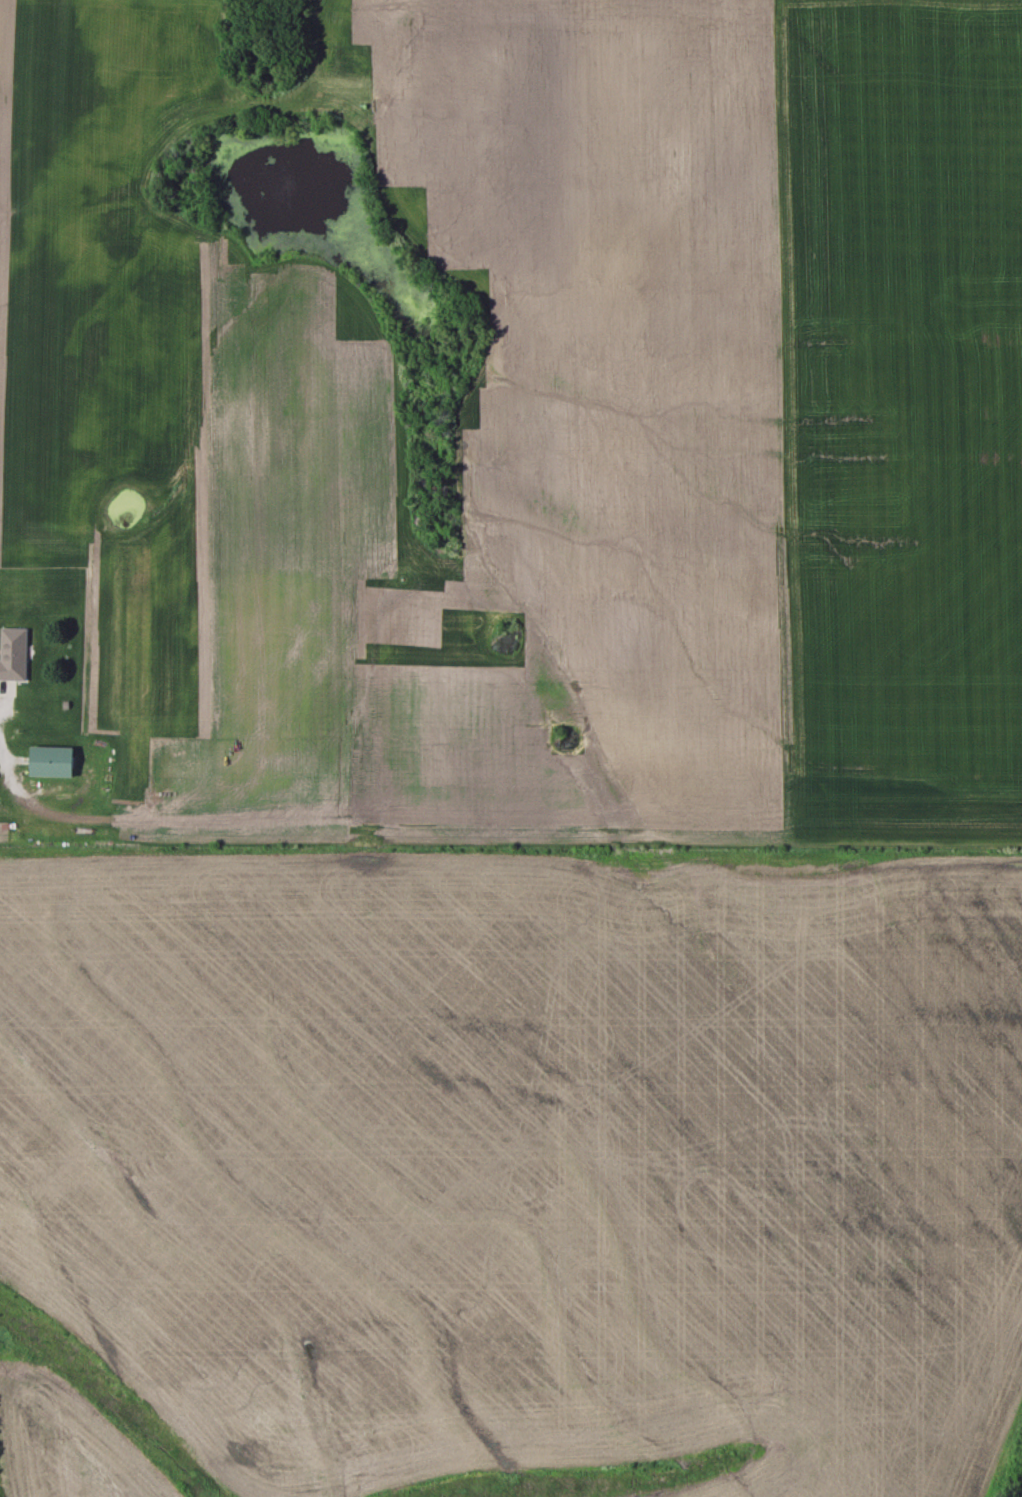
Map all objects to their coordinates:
building: (13, 656)
road: (4, 700)
road: (2, 758)
building: (50, 763)

